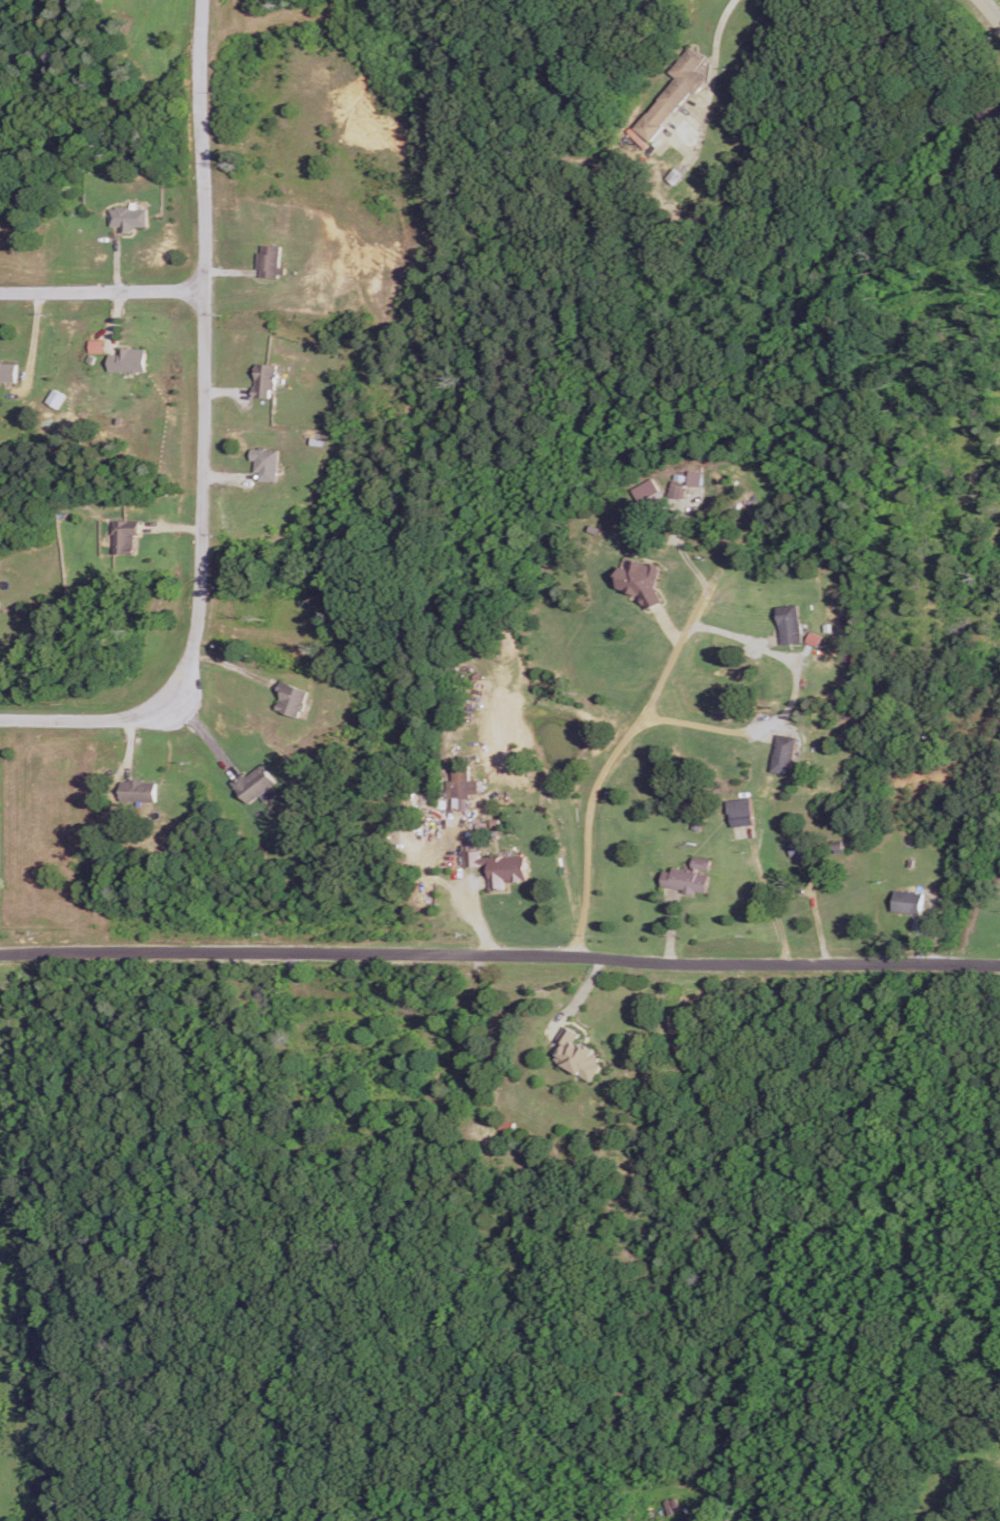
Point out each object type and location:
road: (988, 12)
road: (713, 67)
building: (673, 92)
building: (127, 217)
building: (268, 260)
road: (101, 290)
road: (30, 340)
building: (96, 345)
building: (128, 359)
building: (7, 371)
building: (264, 378)
building: (55, 397)
road: (202, 442)
building: (265, 462)
building: (695, 477)
building: (677, 487)
building: (646, 489)
building: (123, 535)
building: (640, 580)
building: (789, 623)
building: (290, 698)
road: (788, 701)
road: (631, 725)
road: (204, 736)
building: (783, 753)
building: (255, 783)
building: (462, 785)
building: (138, 790)
building: (740, 811)
building: (797, 848)
building: (496, 864)
building: (688, 875)
road: (771, 899)
building: (908, 900)
road: (474, 910)
road: (500, 956)
road: (578, 998)
building: (578, 1055)

